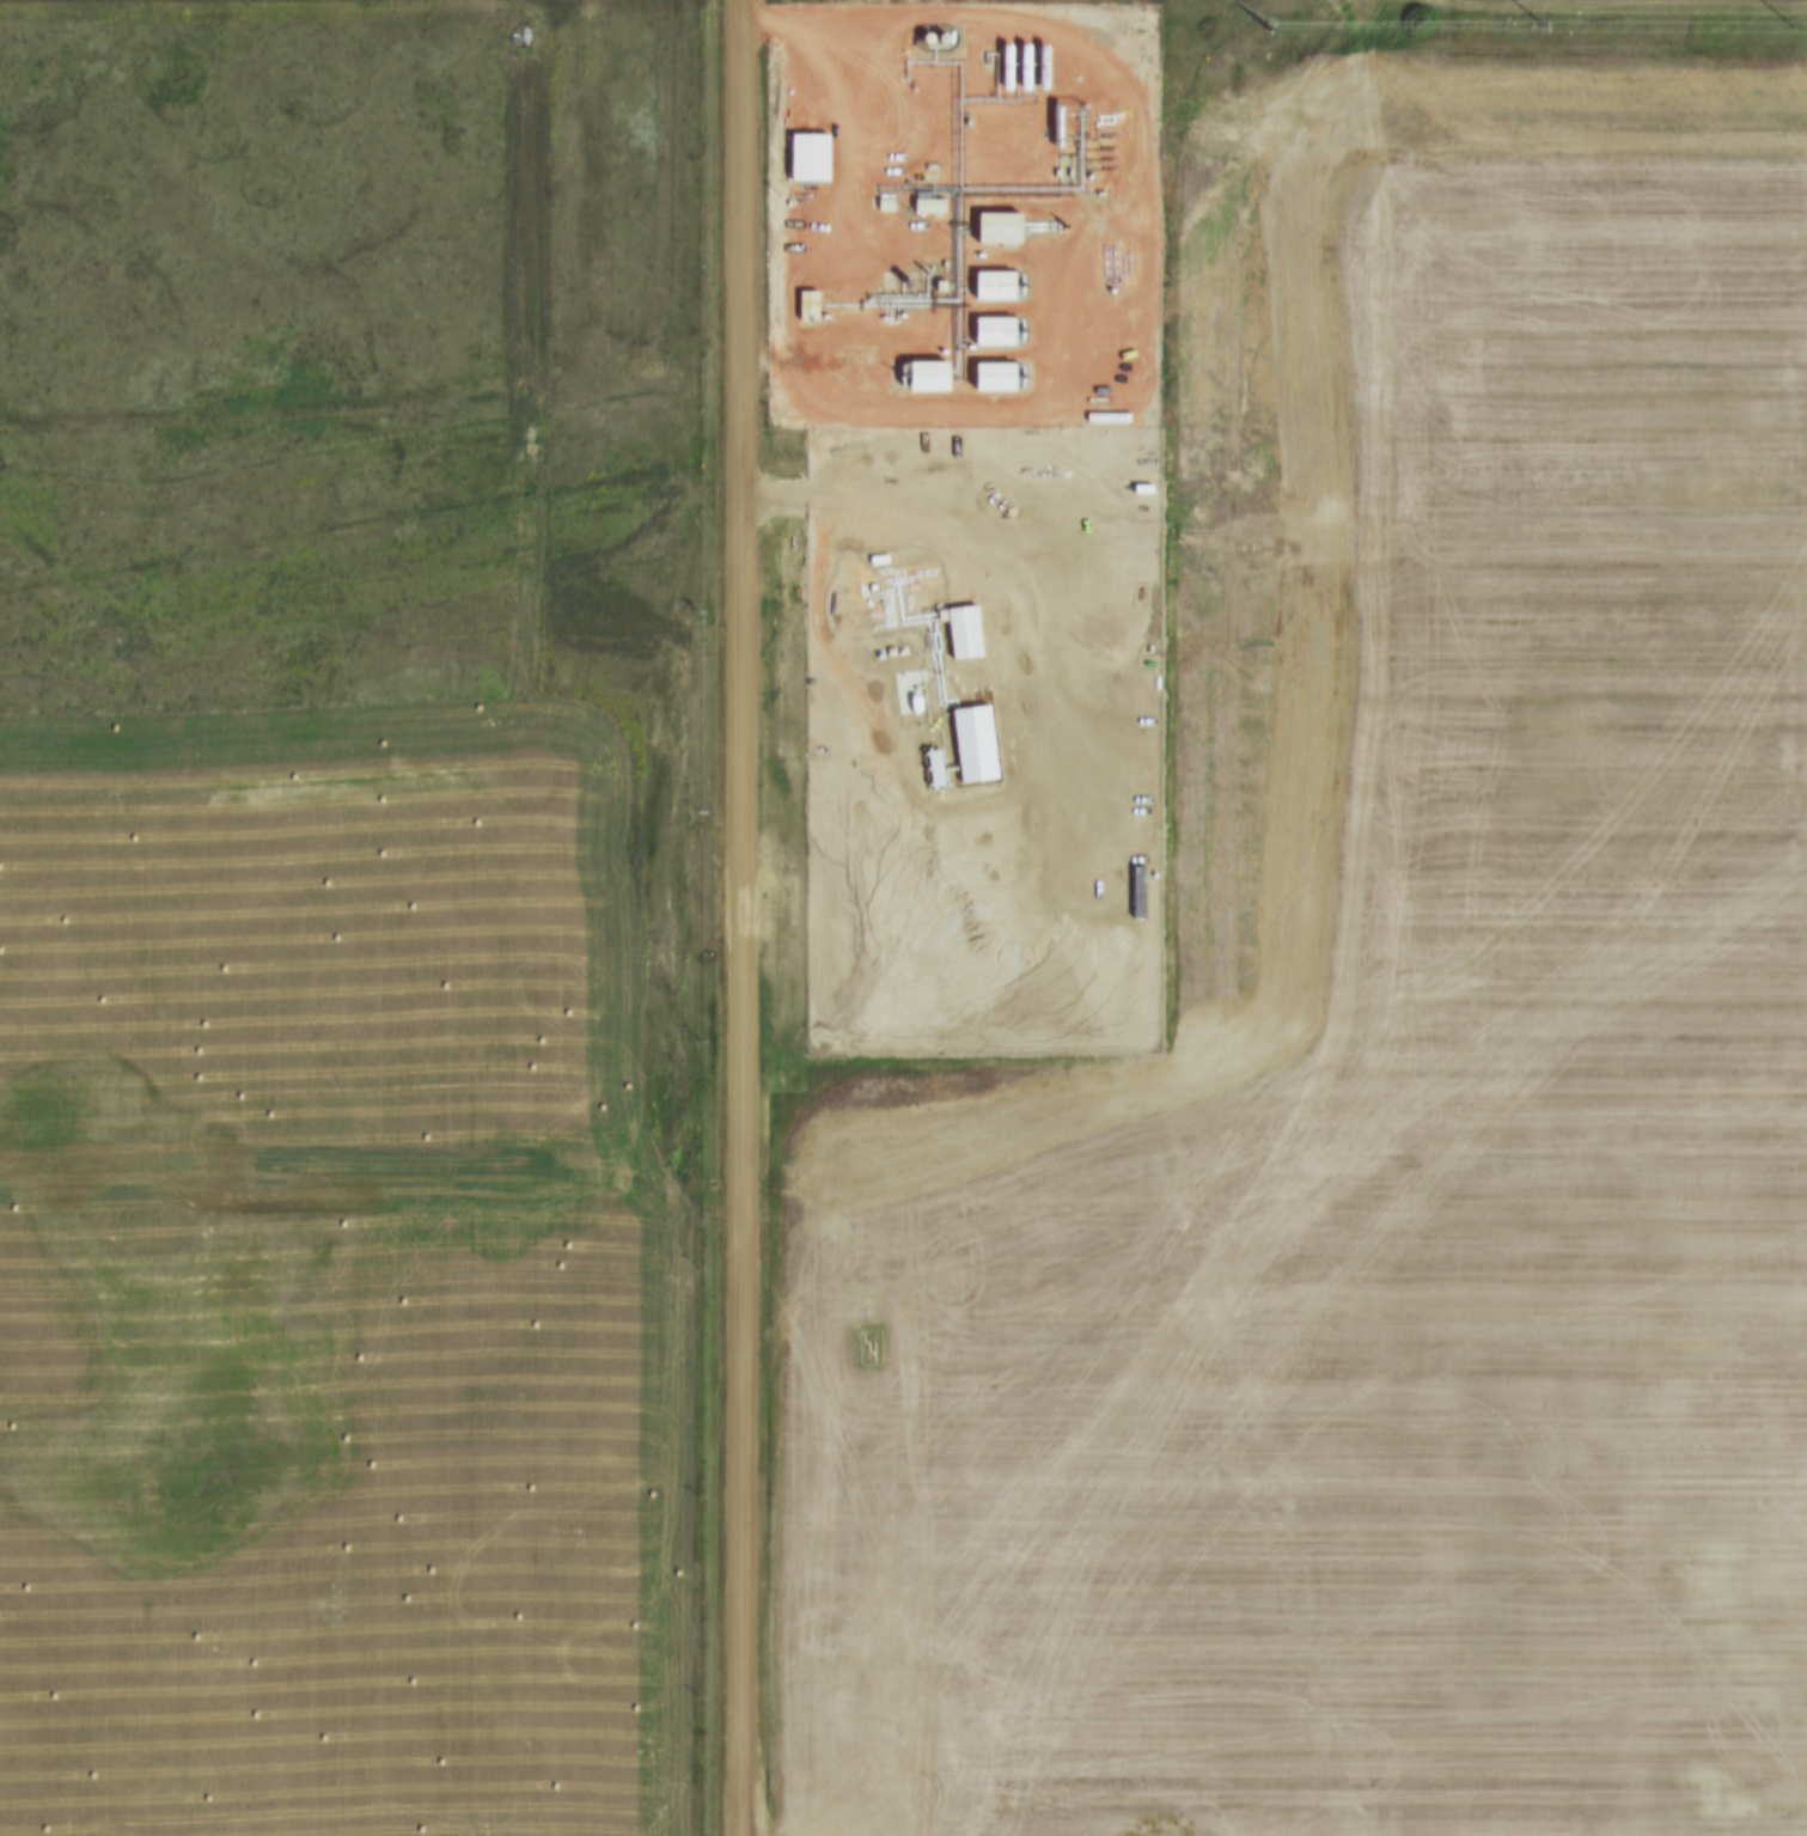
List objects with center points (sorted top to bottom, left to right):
road: (1685, 1)
building: (841, 17)
building: (999, 63)
building: (1036, 63)
building: (1018, 65)
building: (1050, 122)
building: (801, 154)
road: (844, 158)
building: (928, 166)
building: (1062, 171)
building: (922, 202)
building: (880, 203)
building: (989, 224)
building: (1050, 228)
building: (933, 282)
building: (988, 282)
building: (801, 304)
building: (989, 328)
building: (917, 370)
building: (989, 373)
building: (1104, 416)
building: (1137, 488)
building: (874, 559)
building: (869, 587)
building: (957, 629)
building: (893, 652)
building: (909, 702)
building: (969, 740)
building: (929, 767)
building: (1133, 892)
road: (740, 917)

